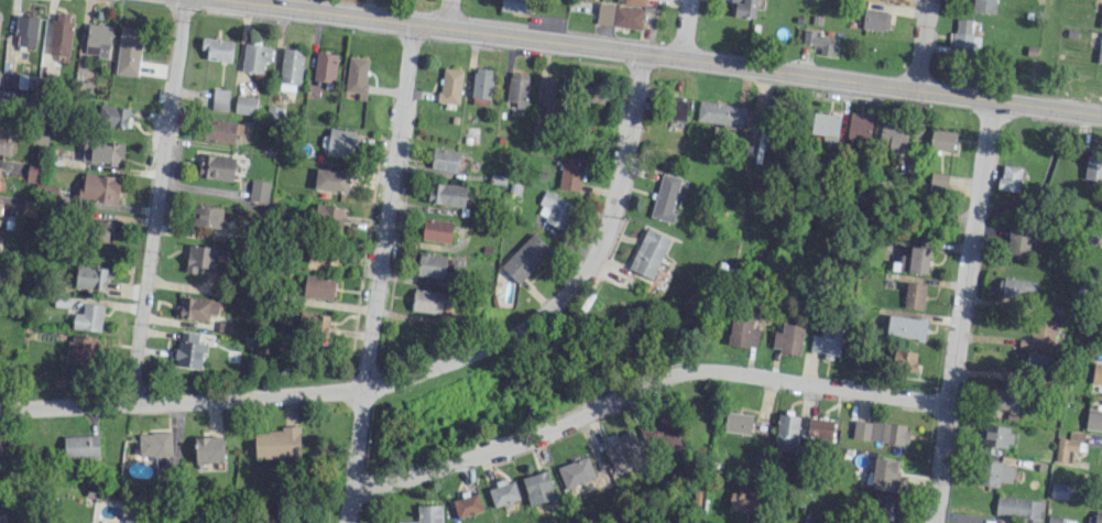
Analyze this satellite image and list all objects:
building: (635, 2)
building: (513, 6)
building: (983, 6)
building: (742, 8)
road: (447, 13)
building: (619, 17)
building: (1101, 19)
building: (875, 20)
road: (684, 29)
building: (25, 31)
building: (61, 34)
building: (962, 37)
building: (98, 40)
building: (818, 41)
road: (920, 44)
building: (217, 48)
building: (129, 51)
building: (1099, 51)
road: (665, 55)
building: (254, 57)
building: (325, 67)
building: (290, 69)
building: (357, 76)
building: (449, 85)
building: (481, 86)
building: (516, 88)
building: (553, 96)
building: (219, 99)
building: (594, 99)
building: (0, 100)
building: (244, 105)
building: (677, 108)
building: (720, 113)
building: (113, 116)
building: (825, 126)
building: (859, 127)
building: (219, 130)
building: (893, 135)
building: (941, 140)
building: (340, 142)
building: (6, 144)
building: (101, 152)
building: (445, 160)
building: (216, 166)
building: (1093, 167)
building: (33, 174)
building: (570, 175)
building: (1010, 177)
building: (938, 178)
building: (330, 179)
building: (99, 188)
building: (259, 190)
building: (446, 194)
building: (665, 197)
building: (0, 203)
road: (156, 203)
building: (554, 209)
building: (206, 216)
building: (328, 218)
building: (437, 230)
building: (105, 231)
building: (1017, 242)
building: (648, 253)
building: (321, 255)
building: (206, 258)
building: (525, 258)
building: (914, 260)
building: (430, 265)
road: (379, 272)
building: (91, 277)
building: (318, 286)
building: (1017, 288)
building: (914, 295)
building: (428, 301)
building: (197, 308)
road: (959, 310)
building: (88, 317)
building: (314, 323)
building: (906, 326)
building: (741, 331)
building: (1039, 336)
building: (787, 338)
building: (826, 342)
building: (83, 350)
building: (187, 351)
building: (904, 359)
building: (1036, 361)
road: (422, 373)
building: (1096, 373)
road: (641, 388)
building: (1004, 400)
building: (1093, 420)
building: (737, 422)
building: (819, 428)
building: (665, 432)
building: (786, 432)
building: (880, 432)
building: (996, 435)
building: (277, 443)
building: (154, 444)
building: (1067, 445)
building: (80, 446)
building: (208, 448)
building: (621, 448)
building: (575, 471)
building: (995, 472)
building: (884, 473)
building: (1100, 484)
building: (538, 488)
building: (503, 492)
building: (740, 499)
building: (467, 505)
building: (1017, 506)
building: (884, 509)
building: (426, 514)
building: (1095, 517)
building: (1054, 519)
building: (807, 522)

